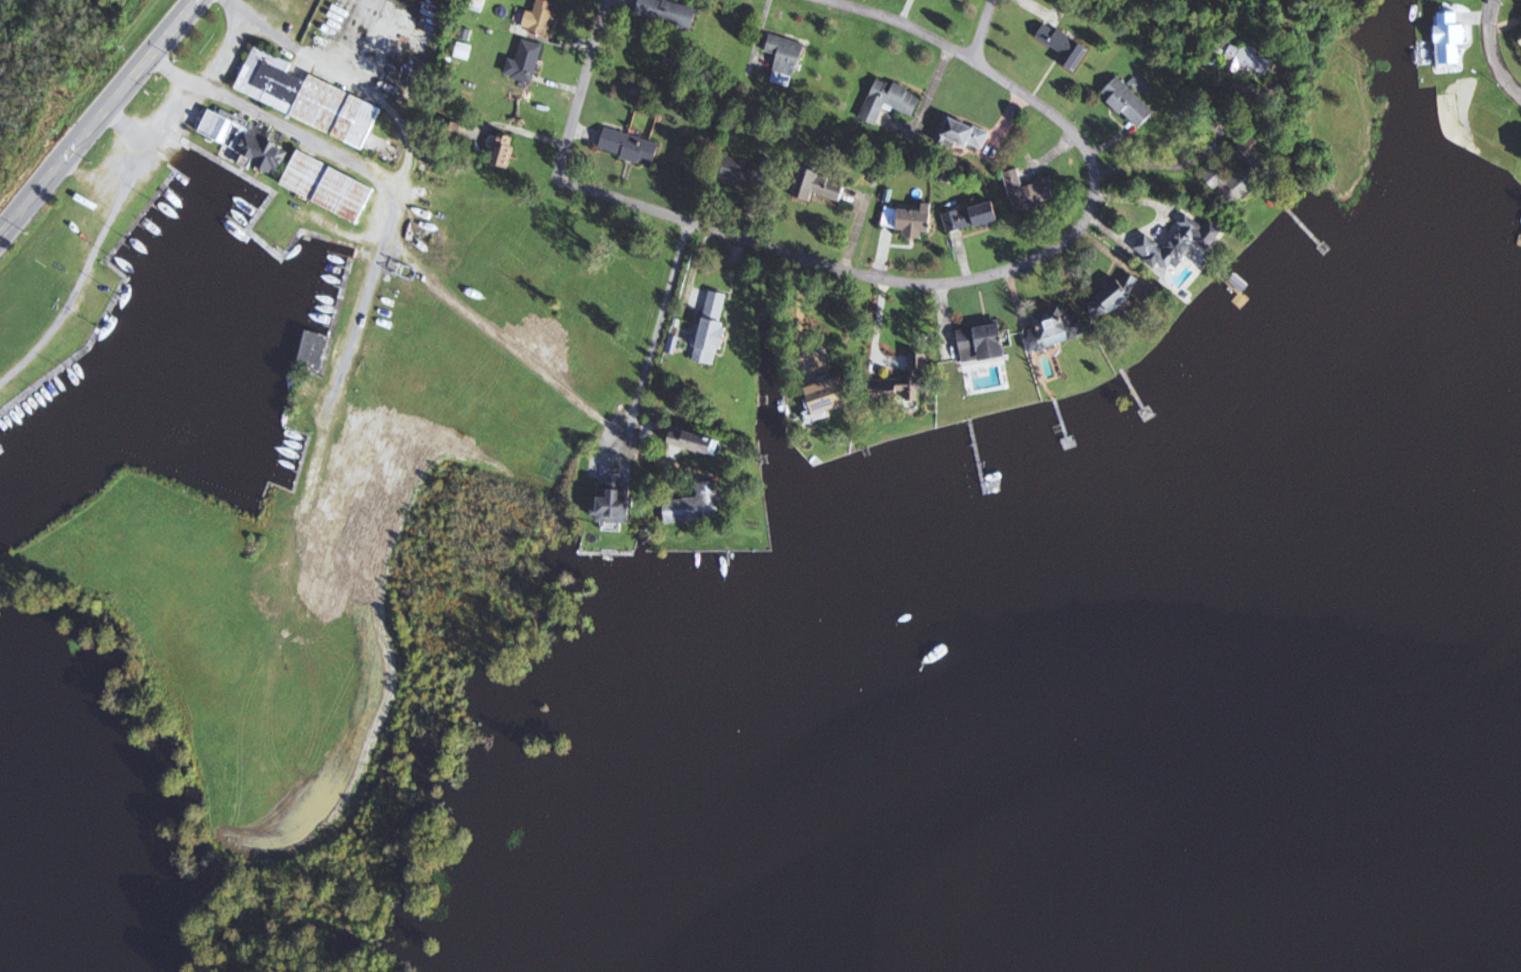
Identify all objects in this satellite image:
building: (964, 0)
building: (477, 5)
building: (668, 12)
building: (540, 18)
road: (983, 29)
building: (1520, 37)
building: (1451, 39)
building: (1063, 46)
road: (1492, 51)
building: (1243, 56)
building: (785, 59)
building: (525, 62)
road: (582, 87)
road: (193, 91)
building: (306, 98)
building: (889, 101)
building: (1128, 103)
road: (99, 119)
building: (963, 135)
building: (244, 140)
building: (629, 147)
building: (503, 151)
building: (747, 172)
building: (1243, 173)
building: (817, 186)
building: (328, 187)
building: (1028, 192)
building: (970, 218)
building: (910, 221)
road: (401, 233)
building: (1172, 245)
road: (87, 265)
road: (1009, 268)
building: (1113, 296)
road: (804, 311)
road: (662, 317)
building: (1058, 327)
building: (711, 328)
building: (981, 344)
building: (312, 354)
building: (901, 381)
building: (828, 395)
building: (691, 445)
building: (615, 504)
building: (694, 507)
river: (1451, 739)

